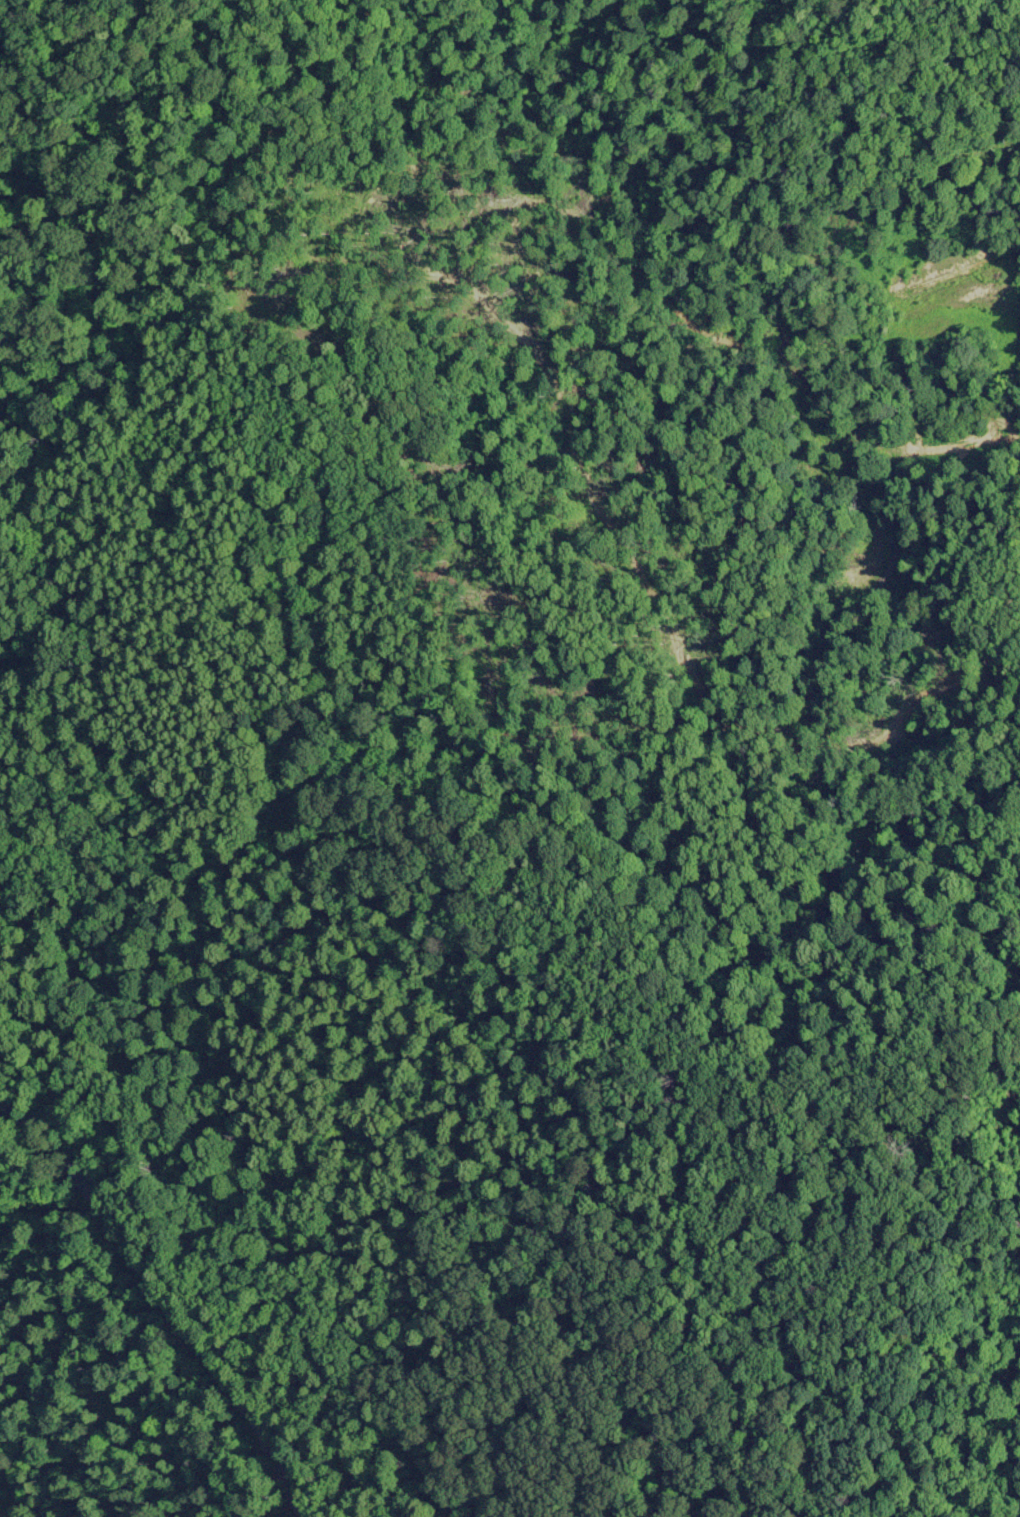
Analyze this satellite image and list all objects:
road: (164, 1302)
road: (1006, 1499)

